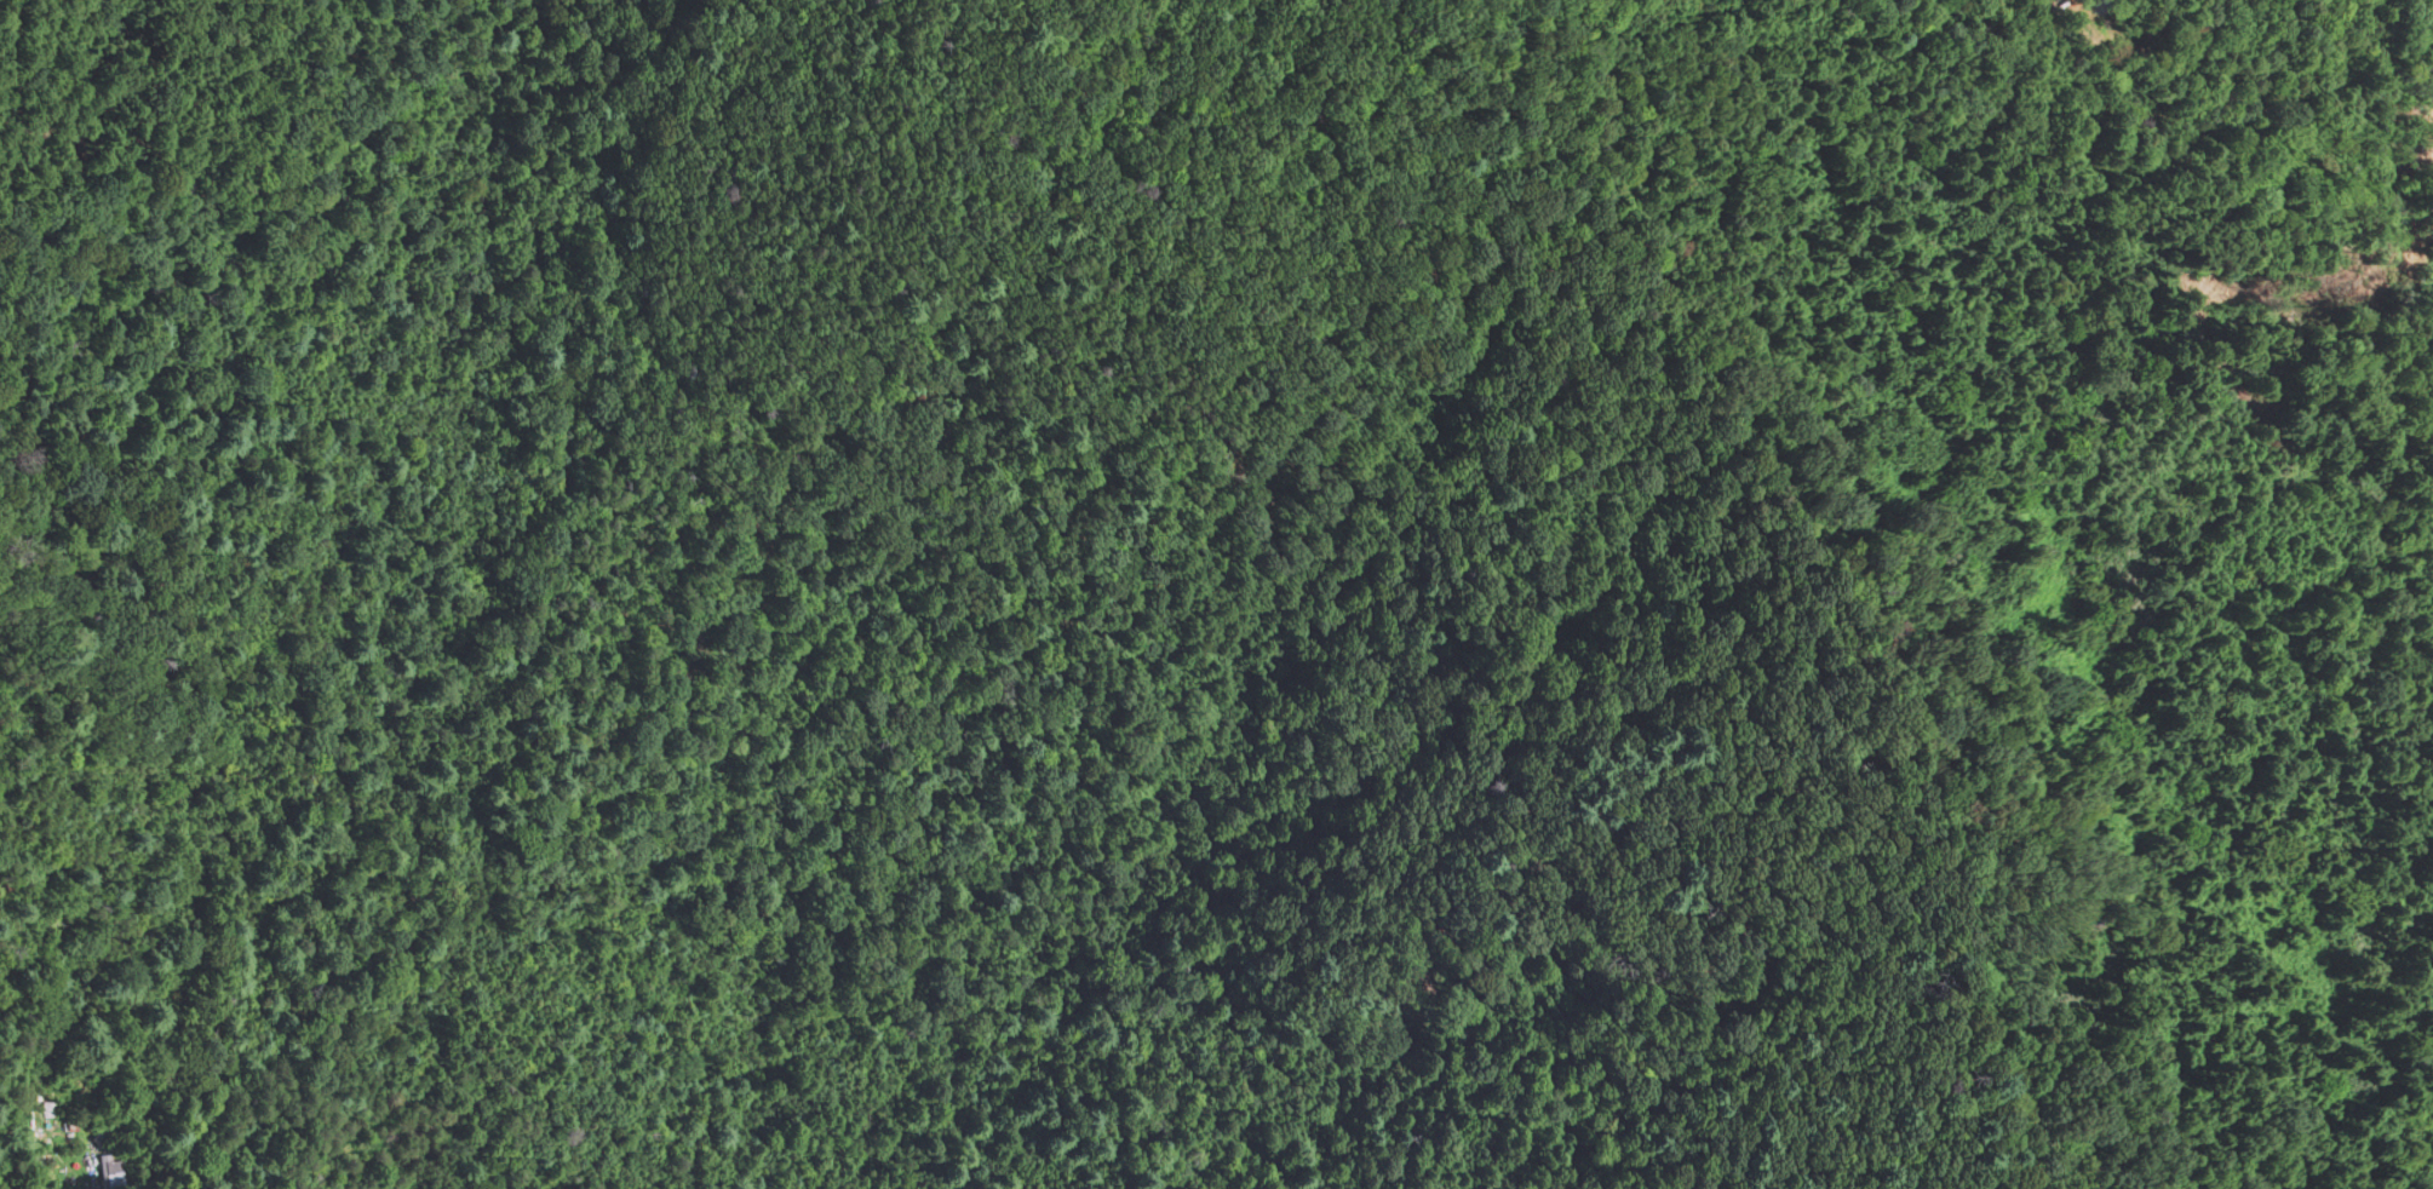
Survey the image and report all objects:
building: (97, 1136)
building: (101, 1172)
building: (110, 1173)
road: (93, 1187)

